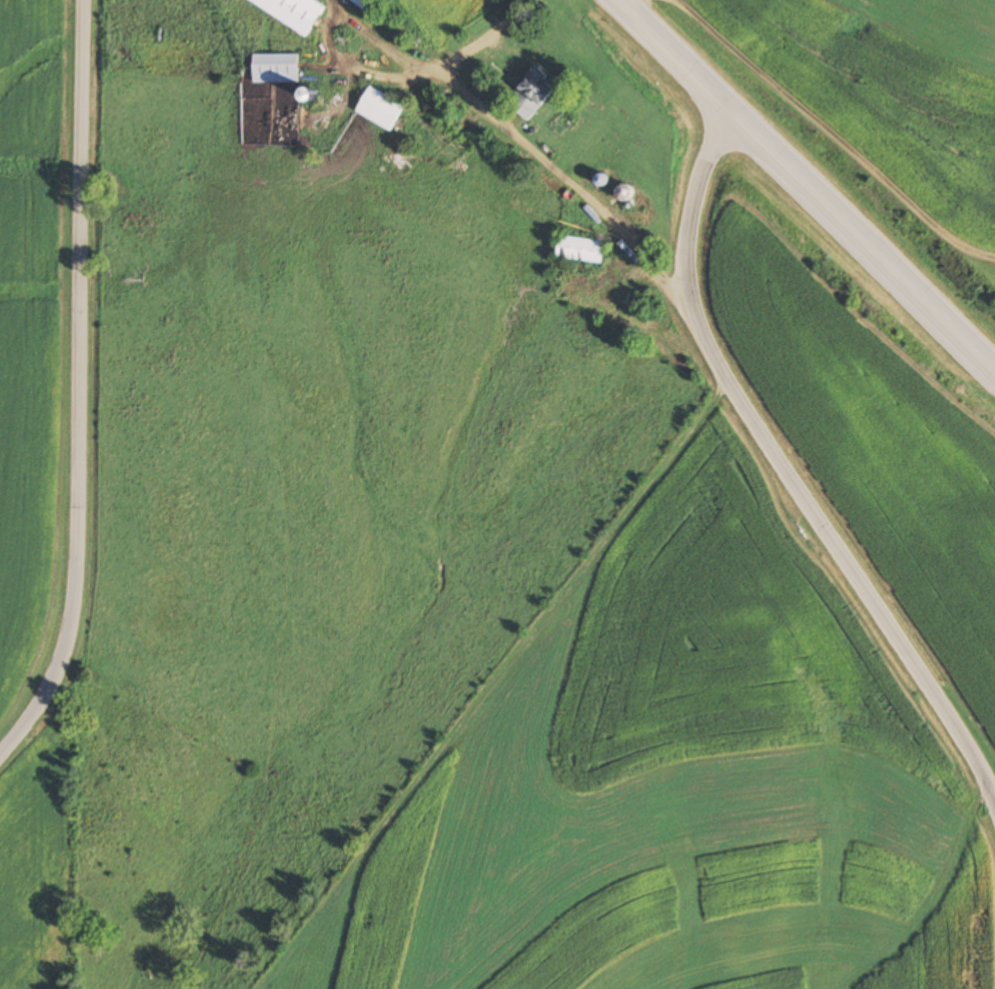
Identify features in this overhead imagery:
building: (367, 4)
building: (293, 11)
building: (275, 67)
road: (352, 69)
building: (533, 92)
building: (380, 108)
road: (521, 144)
road: (805, 185)
building: (580, 250)
road: (76, 386)
road: (784, 469)

